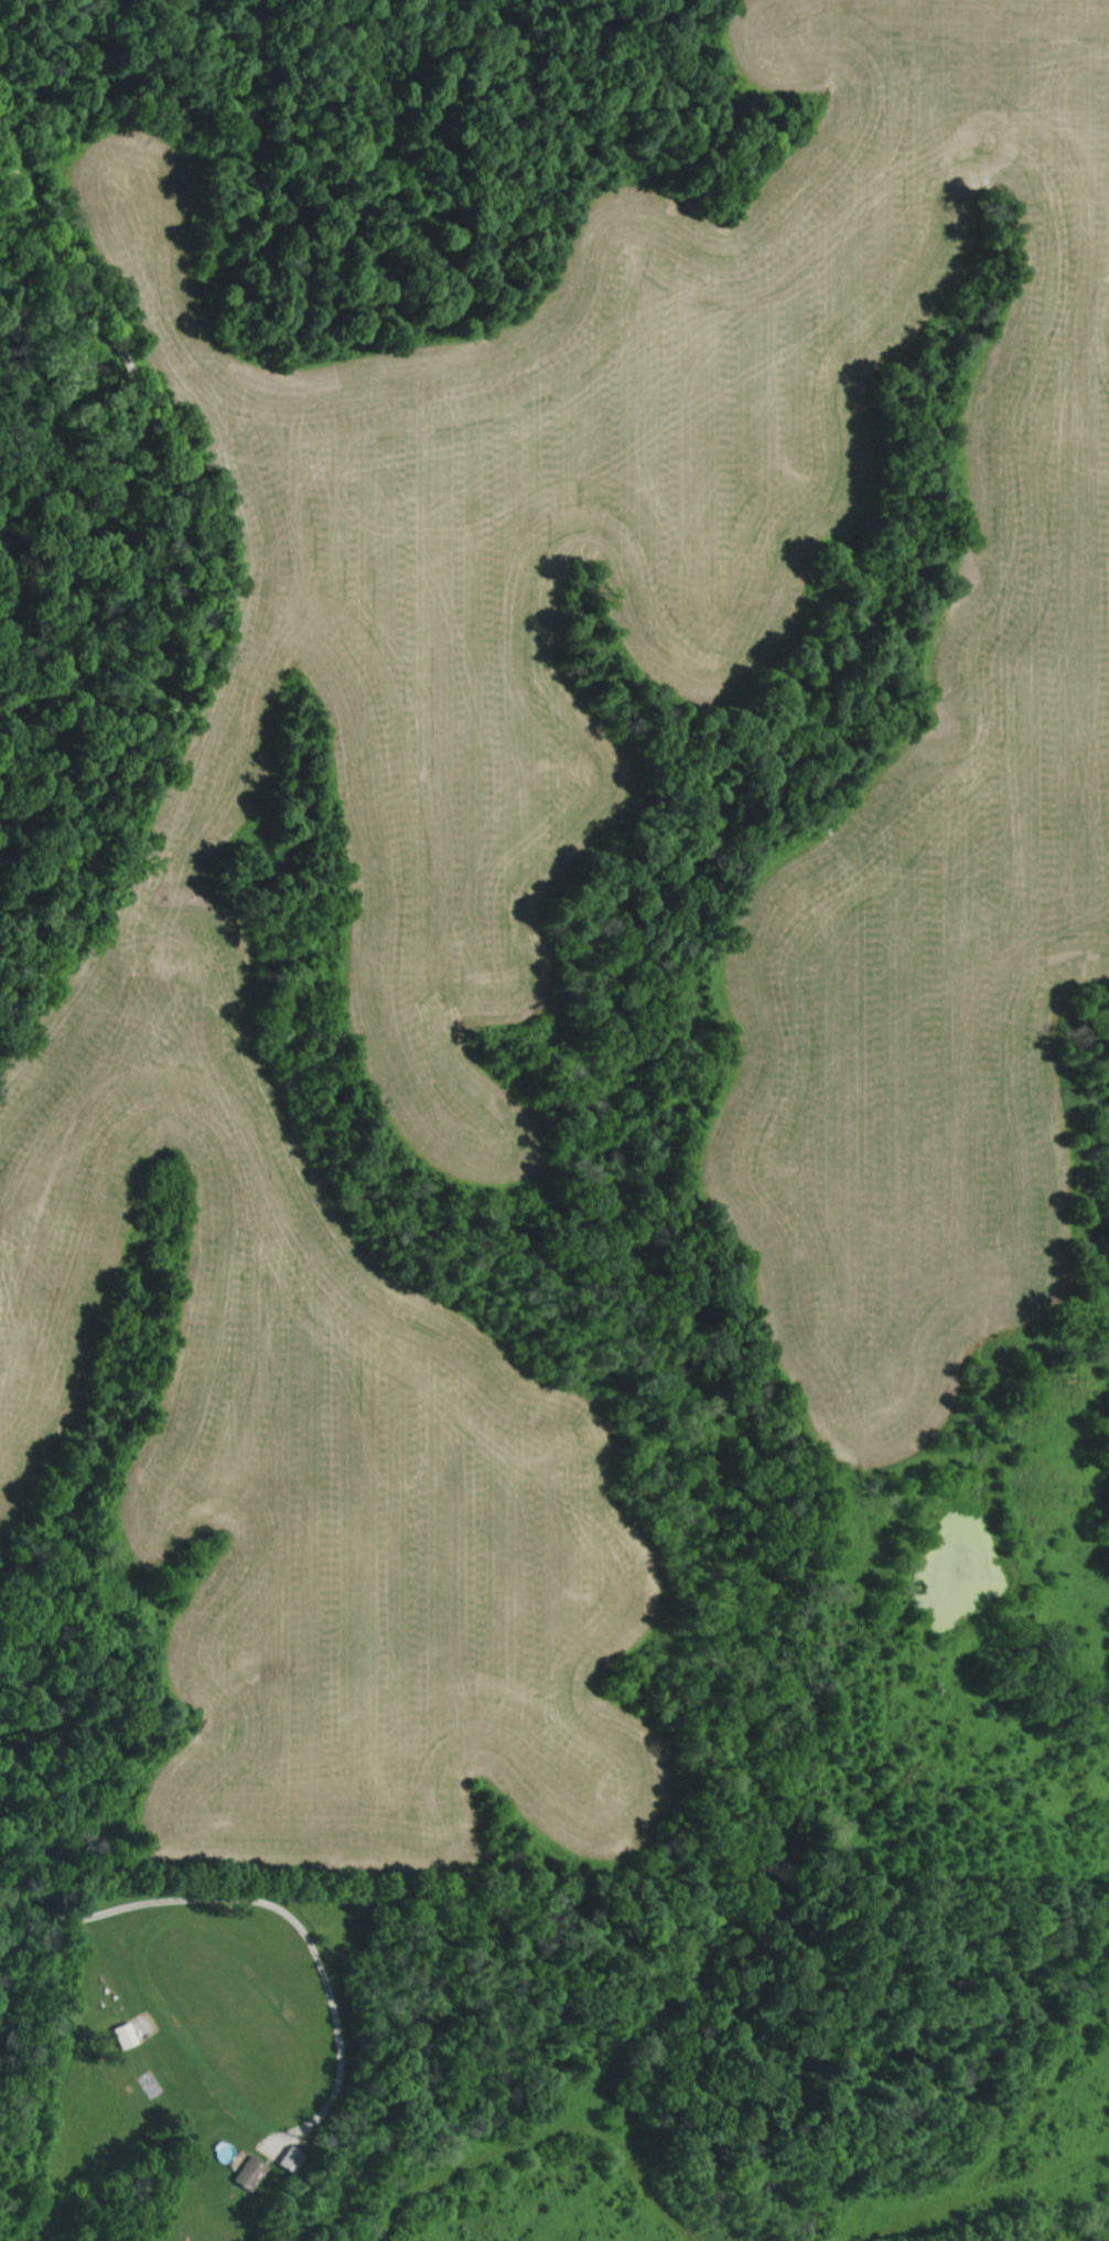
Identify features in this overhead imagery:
road: (198, 559)
road: (266, 1899)
building: (122, 2034)
building: (288, 2157)
building: (248, 2173)

